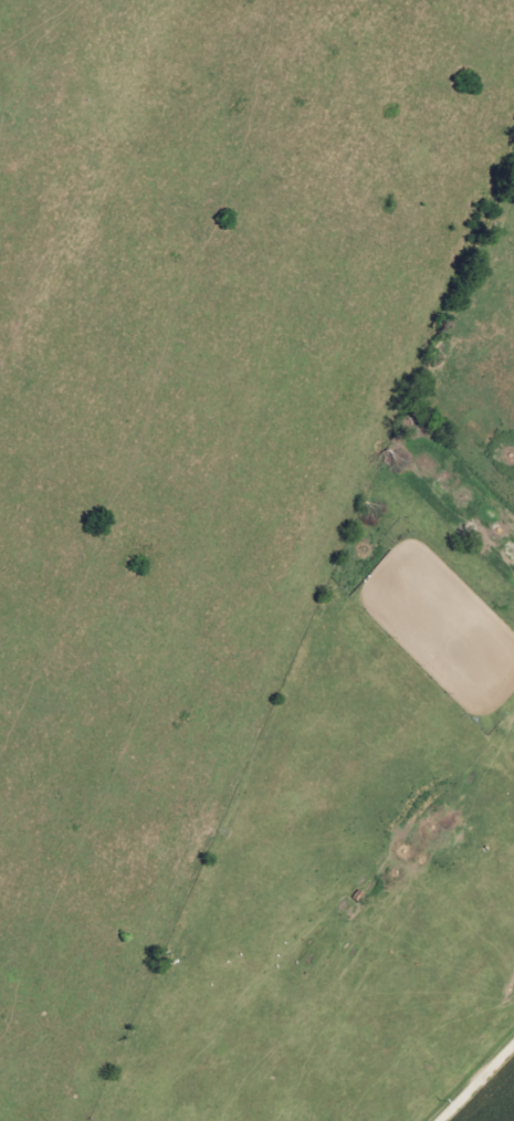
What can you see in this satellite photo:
road: (474, 1080)

